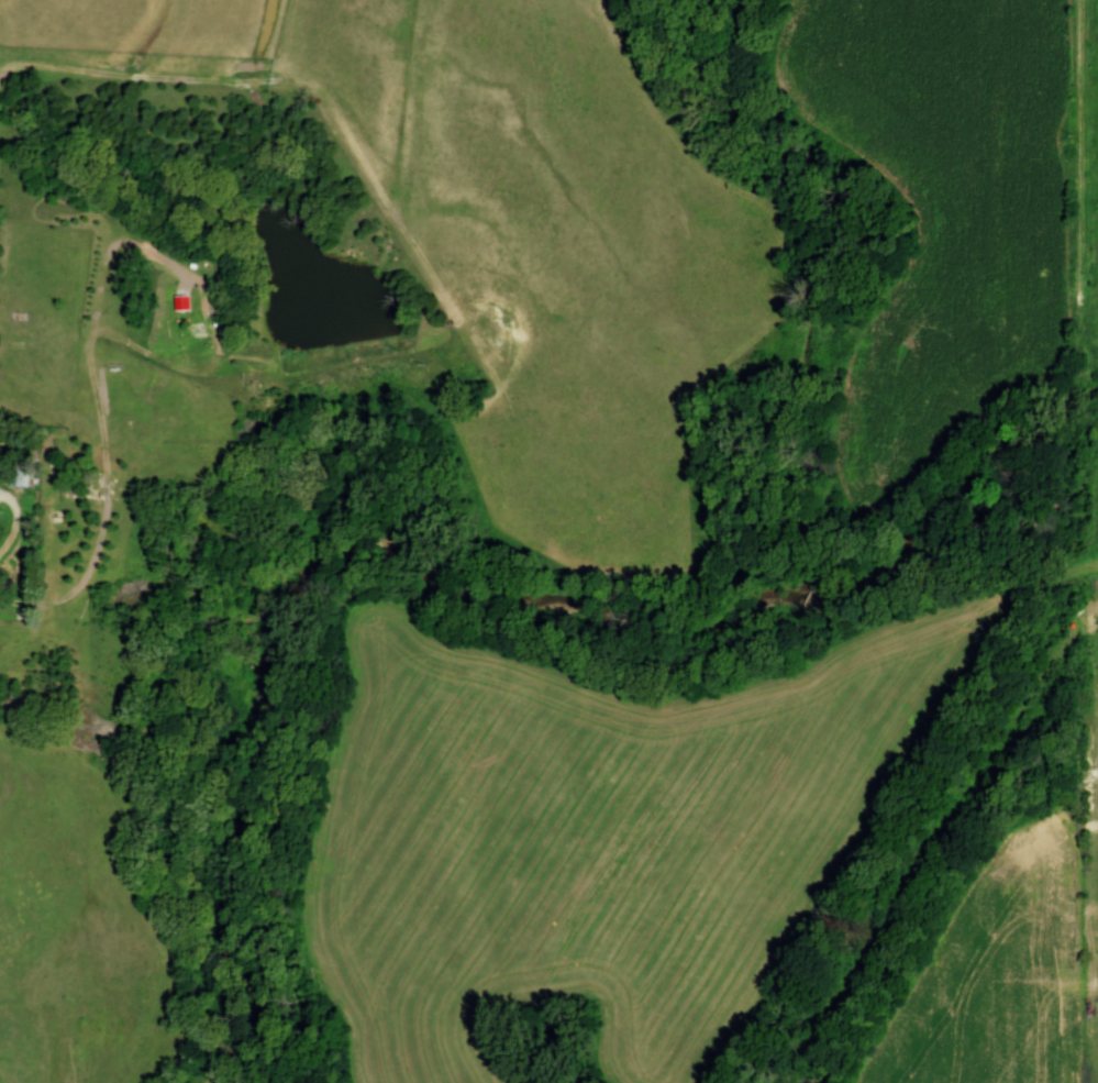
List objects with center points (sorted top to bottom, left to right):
road: (16, 526)
crop: (991, 972)

